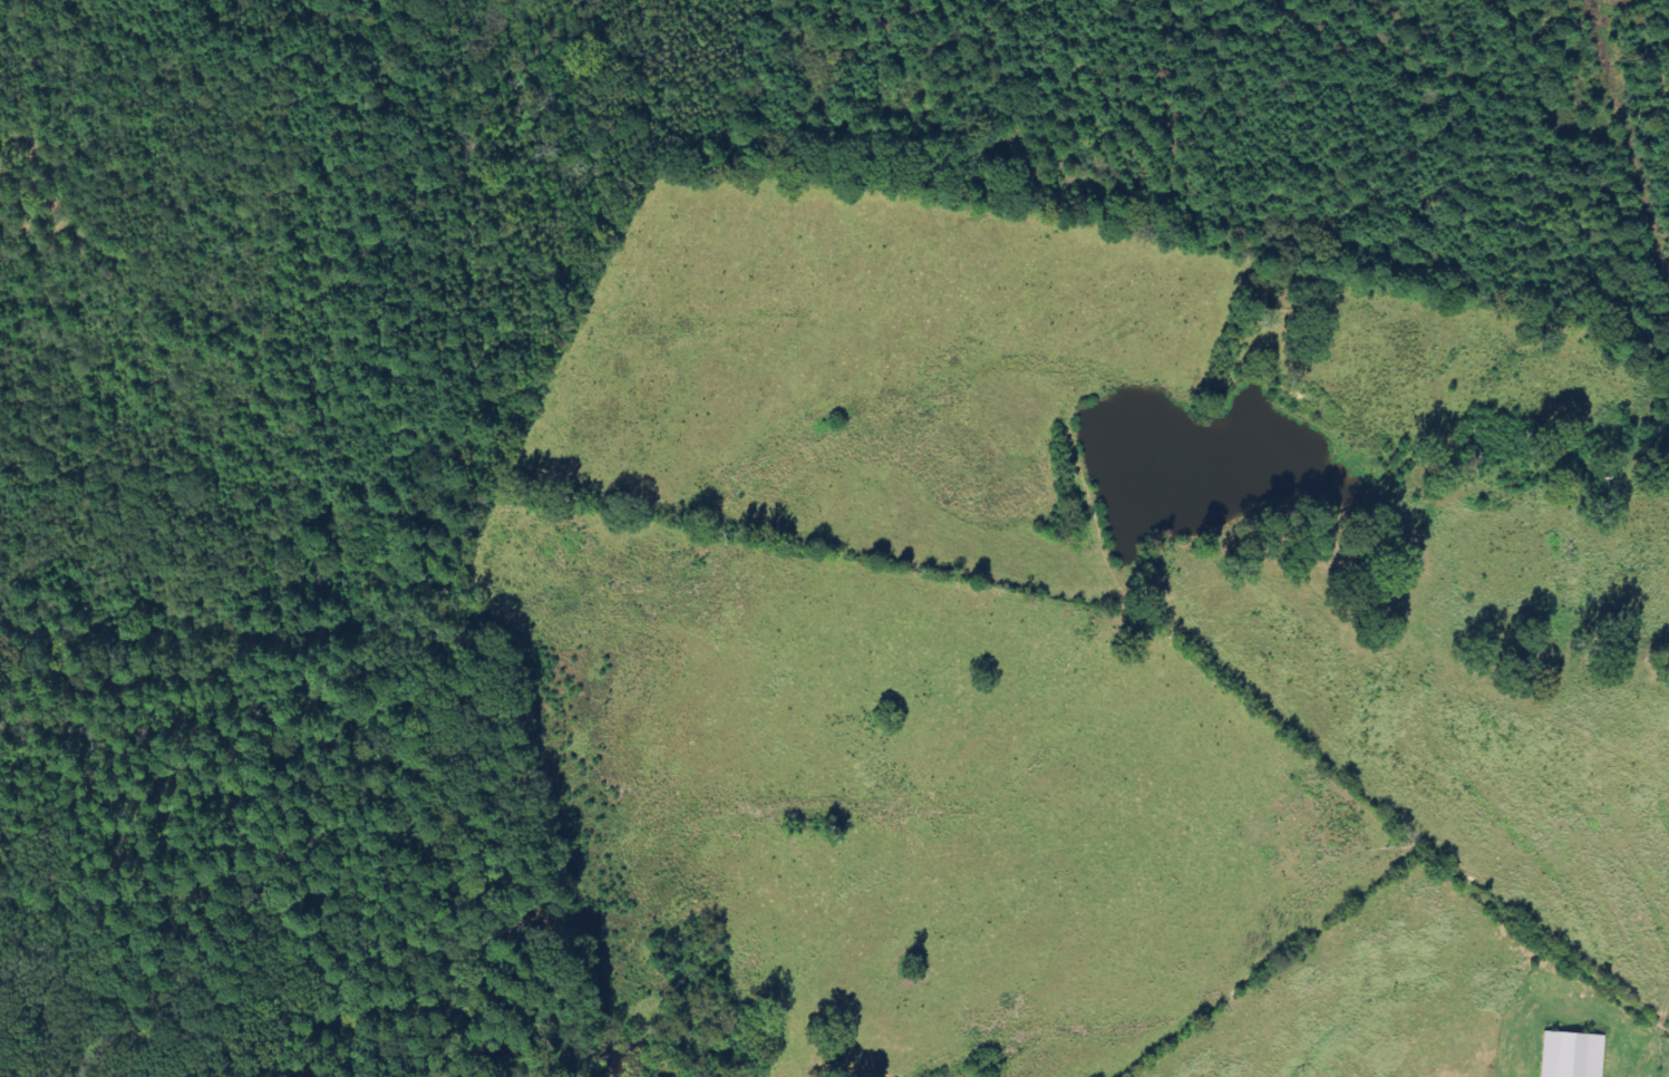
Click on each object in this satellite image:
building: (1578, 1055)

